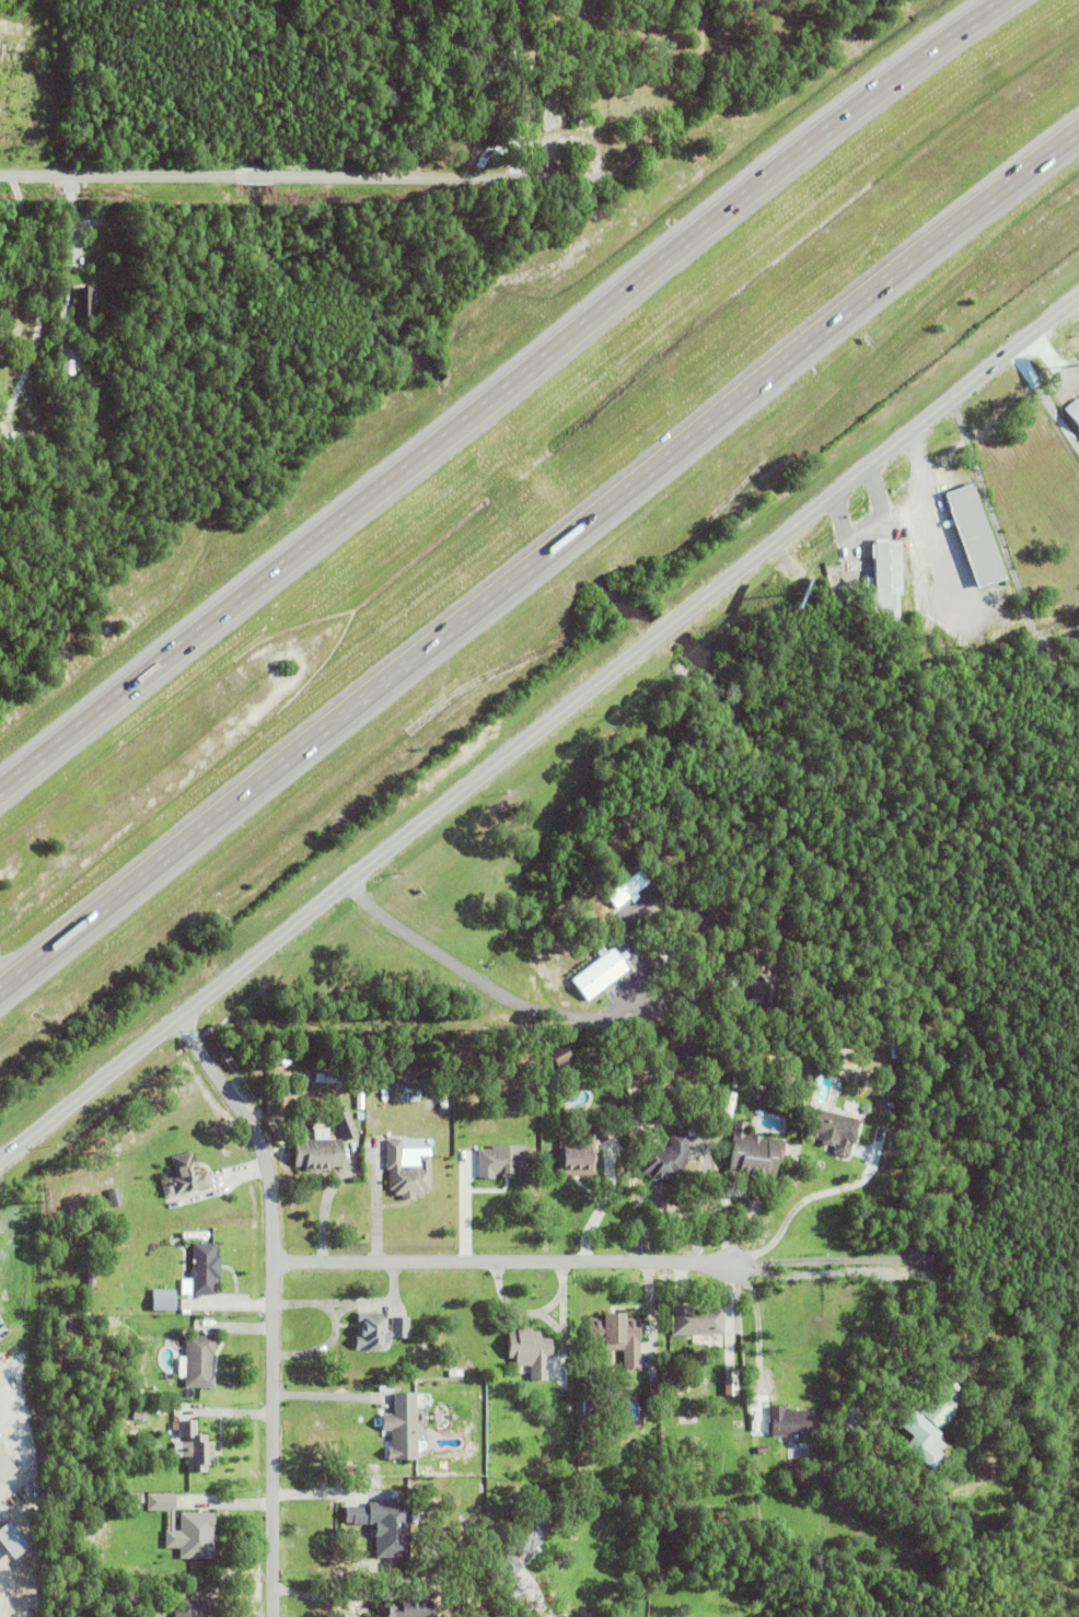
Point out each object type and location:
road: (397, 88)
road: (761, 123)
building: (489, 132)
road: (309, 175)
road: (43, 280)
building: (84, 301)
building: (97, 335)
road: (496, 388)
building: (1074, 410)
building: (12, 412)
building: (974, 534)
road: (538, 562)
building: (883, 579)
road: (538, 730)
building: (626, 888)
building: (808, 967)
building: (600, 973)
road: (4, 981)
road: (485, 984)
building: (763, 1000)
building: (894, 1051)
building: (326, 1078)
building: (893, 1079)
building: (359, 1102)
building: (448, 1108)
building: (317, 1120)
building: (345, 1126)
building: (834, 1131)
building: (316, 1153)
building: (579, 1154)
building: (753, 1154)
building: (502, 1160)
building: (664, 1160)
building: (406, 1172)
building: (187, 1175)
road: (812, 1196)
road: (503, 1263)
building: (204, 1269)
road: (857, 1270)
road: (274, 1304)
building: (697, 1321)
building: (378, 1331)
building: (617, 1337)
building: (530, 1351)
building: (198, 1362)
building: (898, 1368)
building: (76, 1369)
building: (454, 1373)
building: (587, 1377)
building: (733, 1382)
building: (674, 1386)
building: (652, 1391)
building: (591, 1406)
building: (938, 1406)
building: (138, 1414)
building: (788, 1422)
building: (757, 1423)
building: (868, 1433)
building: (401, 1436)
building: (587, 1438)
building: (195, 1449)
building: (761, 1451)
building: (961, 1466)
building: (4, 1467)
building: (384, 1527)
building: (185, 1529)
building: (12, 1538)
building: (520, 1546)
building: (474, 1563)
road: (535, 1599)
building: (474, 1601)
building: (192, 1609)
building: (407, 1609)

